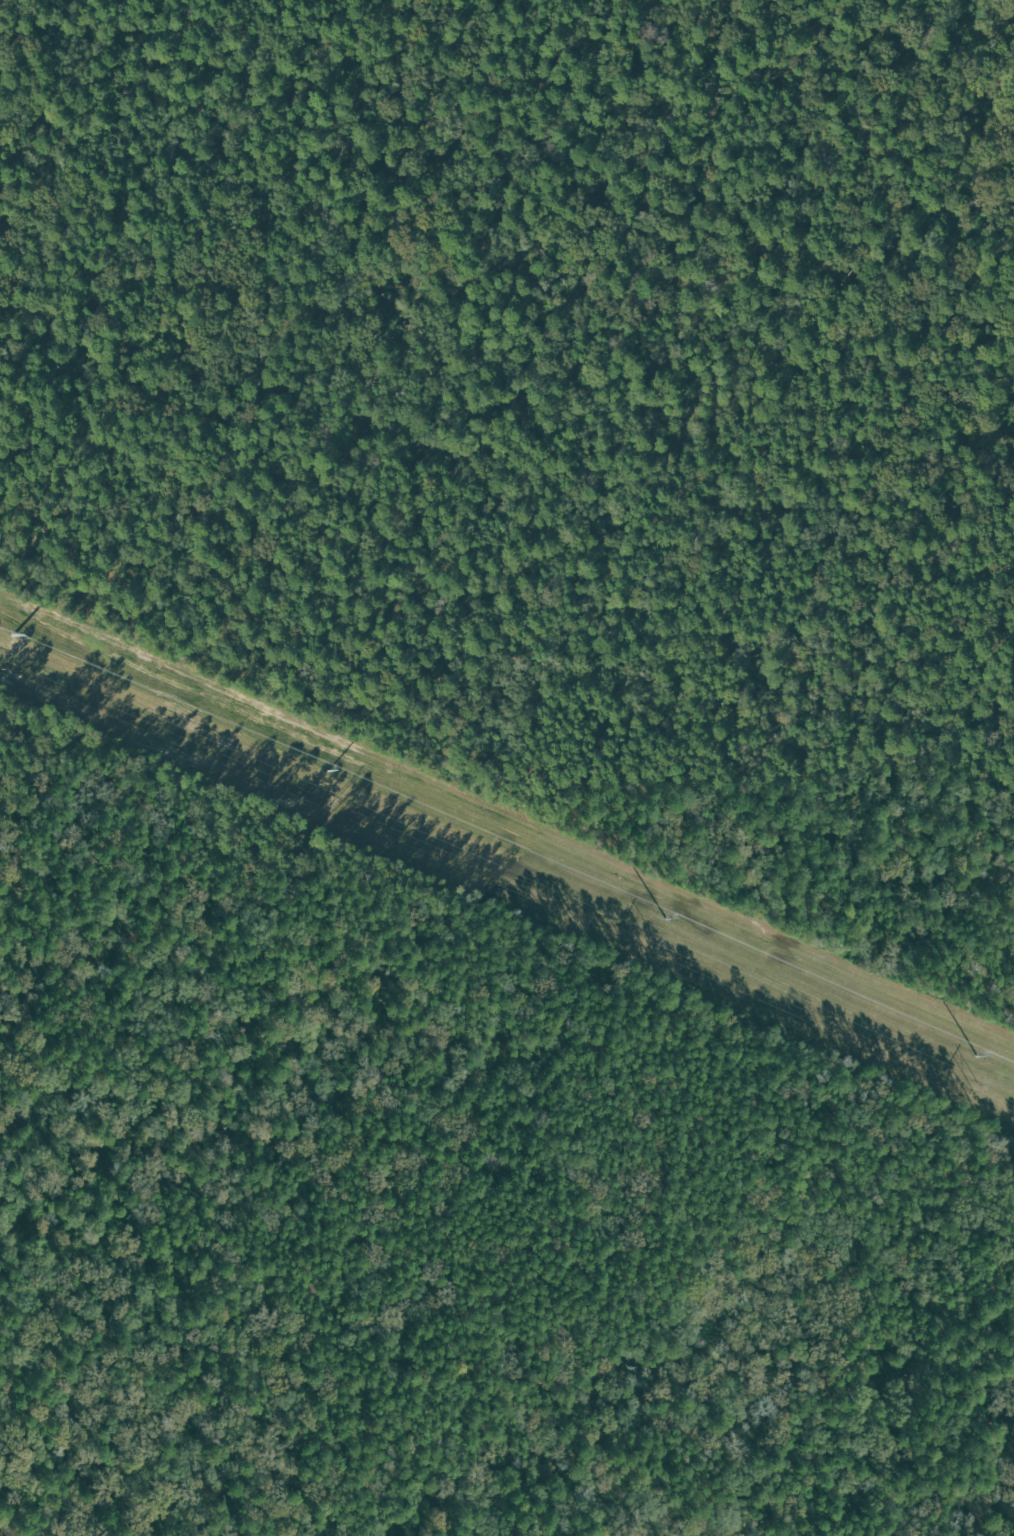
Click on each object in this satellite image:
power tower: (5, 662)
power tower: (332, 804)
power tower: (655, 946)
power tower: (978, 1088)

